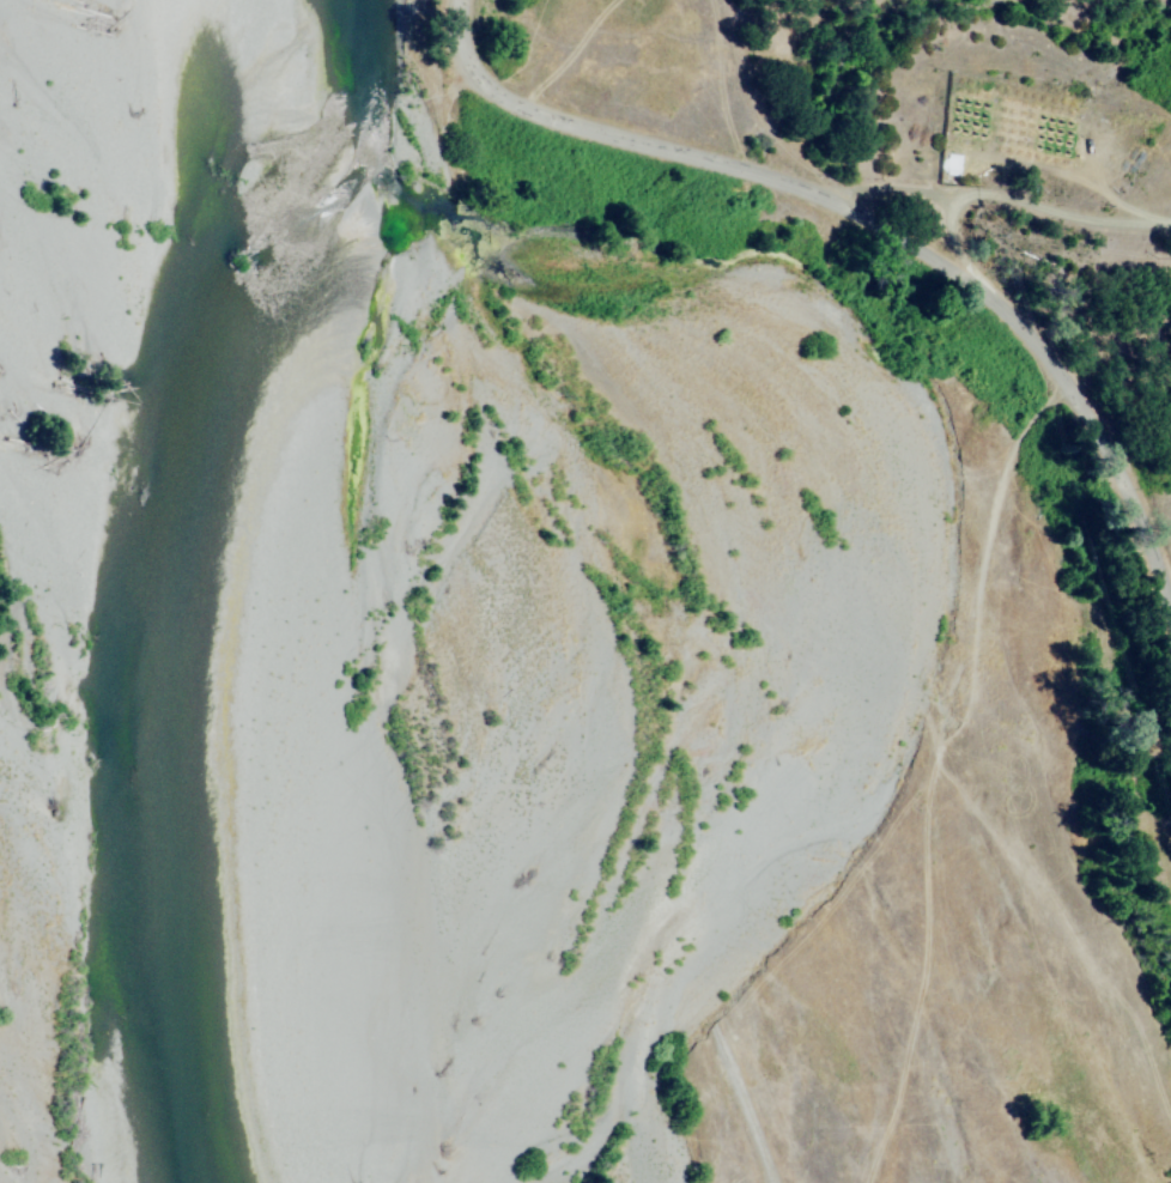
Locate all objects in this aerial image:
road: (477, 61)
road: (1021, 204)
road: (936, 268)

